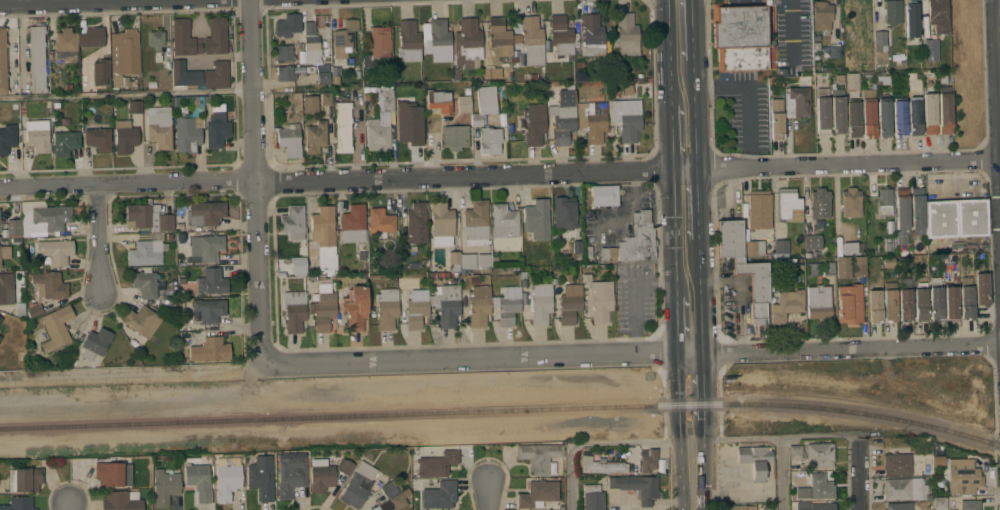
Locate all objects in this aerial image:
road: (88, 2)
building: (936, 10)
building: (892, 12)
building: (821, 16)
building: (911, 23)
building: (287, 25)
road: (683, 29)
building: (592, 34)
building: (562, 35)
building: (625, 35)
building: (216, 36)
building: (182, 37)
building: (499, 37)
building: (740, 37)
building: (344, 38)
building: (156, 39)
building: (468, 39)
building: (90, 40)
building: (436, 40)
building: (311, 41)
building: (408, 41)
building: (532, 41)
building: (65, 45)
building: (377, 46)
building: (880, 47)
building: (930, 49)
building: (834, 51)
building: (283, 52)
building: (124, 55)
road: (998, 56)
building: (36, 59)
building: (3, 61)
building: (100, 72)
building: (492, 72)
building: (285, 73)
building: (184, 74)
road: (684, 74)
building: (217, 75)
building: (323, 77)
building: (851, 81)
road: (125, 94)
road: (749, 95)
road: (685, 97)
building: (325, 98)
building: (387, 100)
building: (439, 101)
building: (797, 102)
building: (484, 103)
building: (310, 104)
building: (464, 104)
building: (135, 107)
building: (930, 110)
building: (945, 110)
building: (868, 113)
building: (822, 115)
building: (837, 115)
building: (563, 116)
building: (883, 116)
building: (914, 116)
building: (899, 117)
building: (626, 118)
building: (853, 118)
building: (776, 119)
building: (595, 121)
building: (408, 124)
building: (533, 124)
building: (159, 127)
building: (343, 127)
building: (190, 128)
building: (216, 129)
building: (378, 133)
building: (37, 135)
building: (125, 136)
building: (7, 137)
building: (315, 137)
building: (455, 137)
road: (686, 138)
building: (98, 139)
building: (289, 139)
building: (489, 139)
road: (357, 140)
building: (65, 142)
road: (500, 174)
road: (255, 180)
building: (603, 195)
building: (884, 201)
building: (851, 202)
building: (819, 203)
road: (687, 205)
building: (788, 205)
building: (758, 209)
building: (902, 210)
building: (536, 211)
building: (205, 213)
building: (564, 213)
building: (413, 215)
building: (147, 217)
building: (971, 217)
building: (42, 218)
building: (918, 220)
building: (940, 220)
building: (504, 221)
building: (292, 222)
building: (380, 222)
building: (441, 222)
building: (476, 223)
building: (353, 224)
building: (11, 227)
building: (324, 237)
building: (638, 239)
building: (730, 239)
building: (38, 241)
road: (98, 241)
building: (813, 242)
building: (781, 246)
building: (753, 247)
building: (205, 248)
building: (848, 248)
building: (147, 251)
building: (5, 252)
building: (60, 252)
building: (607, 253)
building: (453, 260)
building: (467, 261)
building: (483, 261)
building: (0, 265)
building: (297, 265)
building: (859, 265)
road: (688, 267)
building: (843, 267)
building: (828, 268)
building: (813, 269)
building: (211, 282)
building: (144, 283)
building: (5, 285)
building: (49, 285)
building: (755, 288)
building: (981, 289)
road: (634, 291)
building: (966, 298)
building: (599, 299)
building: (904, 299)
building: (936, 299)
building: (167, 303)
building: (540, 303)
building: (569, 303)
building: (819, 303)
building: (849, 303)
building: (950, 303)
building: (445, 304)
building: (920, 304)
building: (478, 305)
building: (508, 305)
building: (787, 305)
building: (889, 305)
building: (874, 306)
building: (355, 307)
building: (323, 308)
building: (386, 308)
building: (416, 308)
building: (207, 310)
building: (294, 311)
building: (0, 318)
building: (142, 321)
road: (690, 324)
building: (55, 328)
building: (0, 337)
building: (95, 343)
building: (210, 349)
road: (631, 354)
road: (678, 392)
road: (699, 393)
railway: (502, 411)
road: (774, 437)
road: (597, 443)
building: (795, 451)
building: (819, 455)
building: (539, 456)
building: (648, 460)
building: (755, 460)
building: (436, 461)
building: (601, 463)
building: (896, 463)
building: (345, 466)
road: (691, 471)
building: (290, 472)
road: (858, 472)
road: (781, 473)
building: (112, 474)
building: (320, 475)
building: (963, 476)
building: (227, 477)
building: (261, 477)
building: (198, 478)
building: (25, 479)
building: (358, 485)
building: (164, 487)
building: (636, 487)
building: (820, 487)
building: (390, 488)
building: (905, 489)
road: (486, 494)
building: (538, 494)
building: (439, 495)
building: (593, 497)
building: (121, 501)
building: (397, 501)
building: (19, 503)
building: (939, 503)
building: (969, 505)
road: (67, 506)
building: (814, 506)
building: (897, 506)
building: (740, 507)
building: (771, 507)

